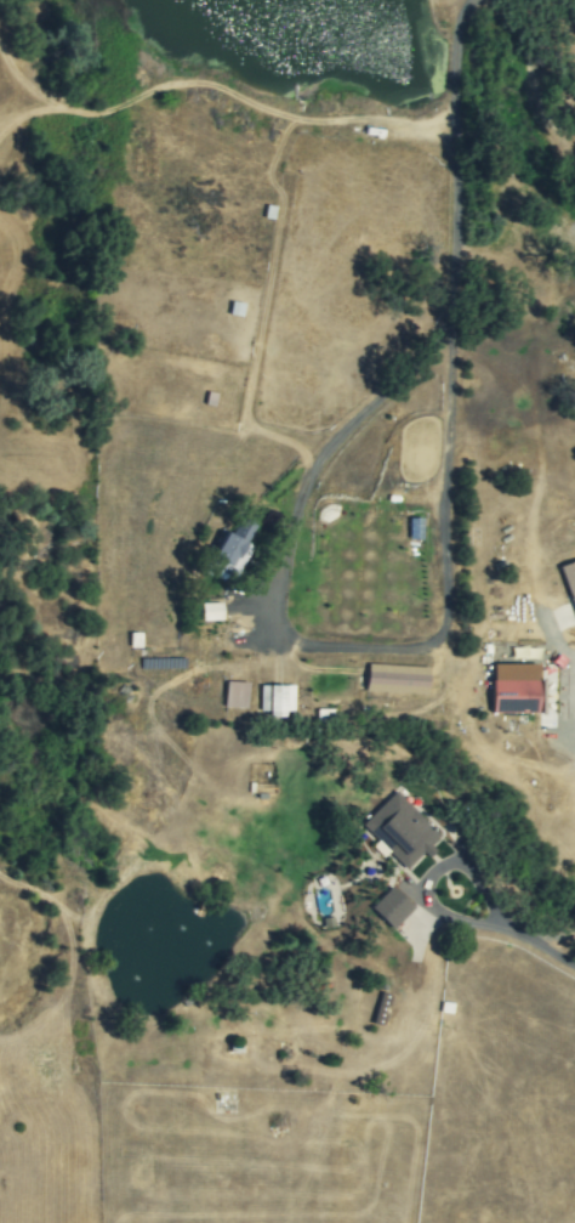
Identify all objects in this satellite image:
road: (380, 120)
road: (452, 162)
building: (234, 545)
building: (569, 579)
building: (210, 611)
road: (330, 647)
building: (395, 679)
building: (235, 695)
building: (513, 696)
building: (275, 700)
building: (400, 831)
building: (392, 907)
road: (533, 947)

